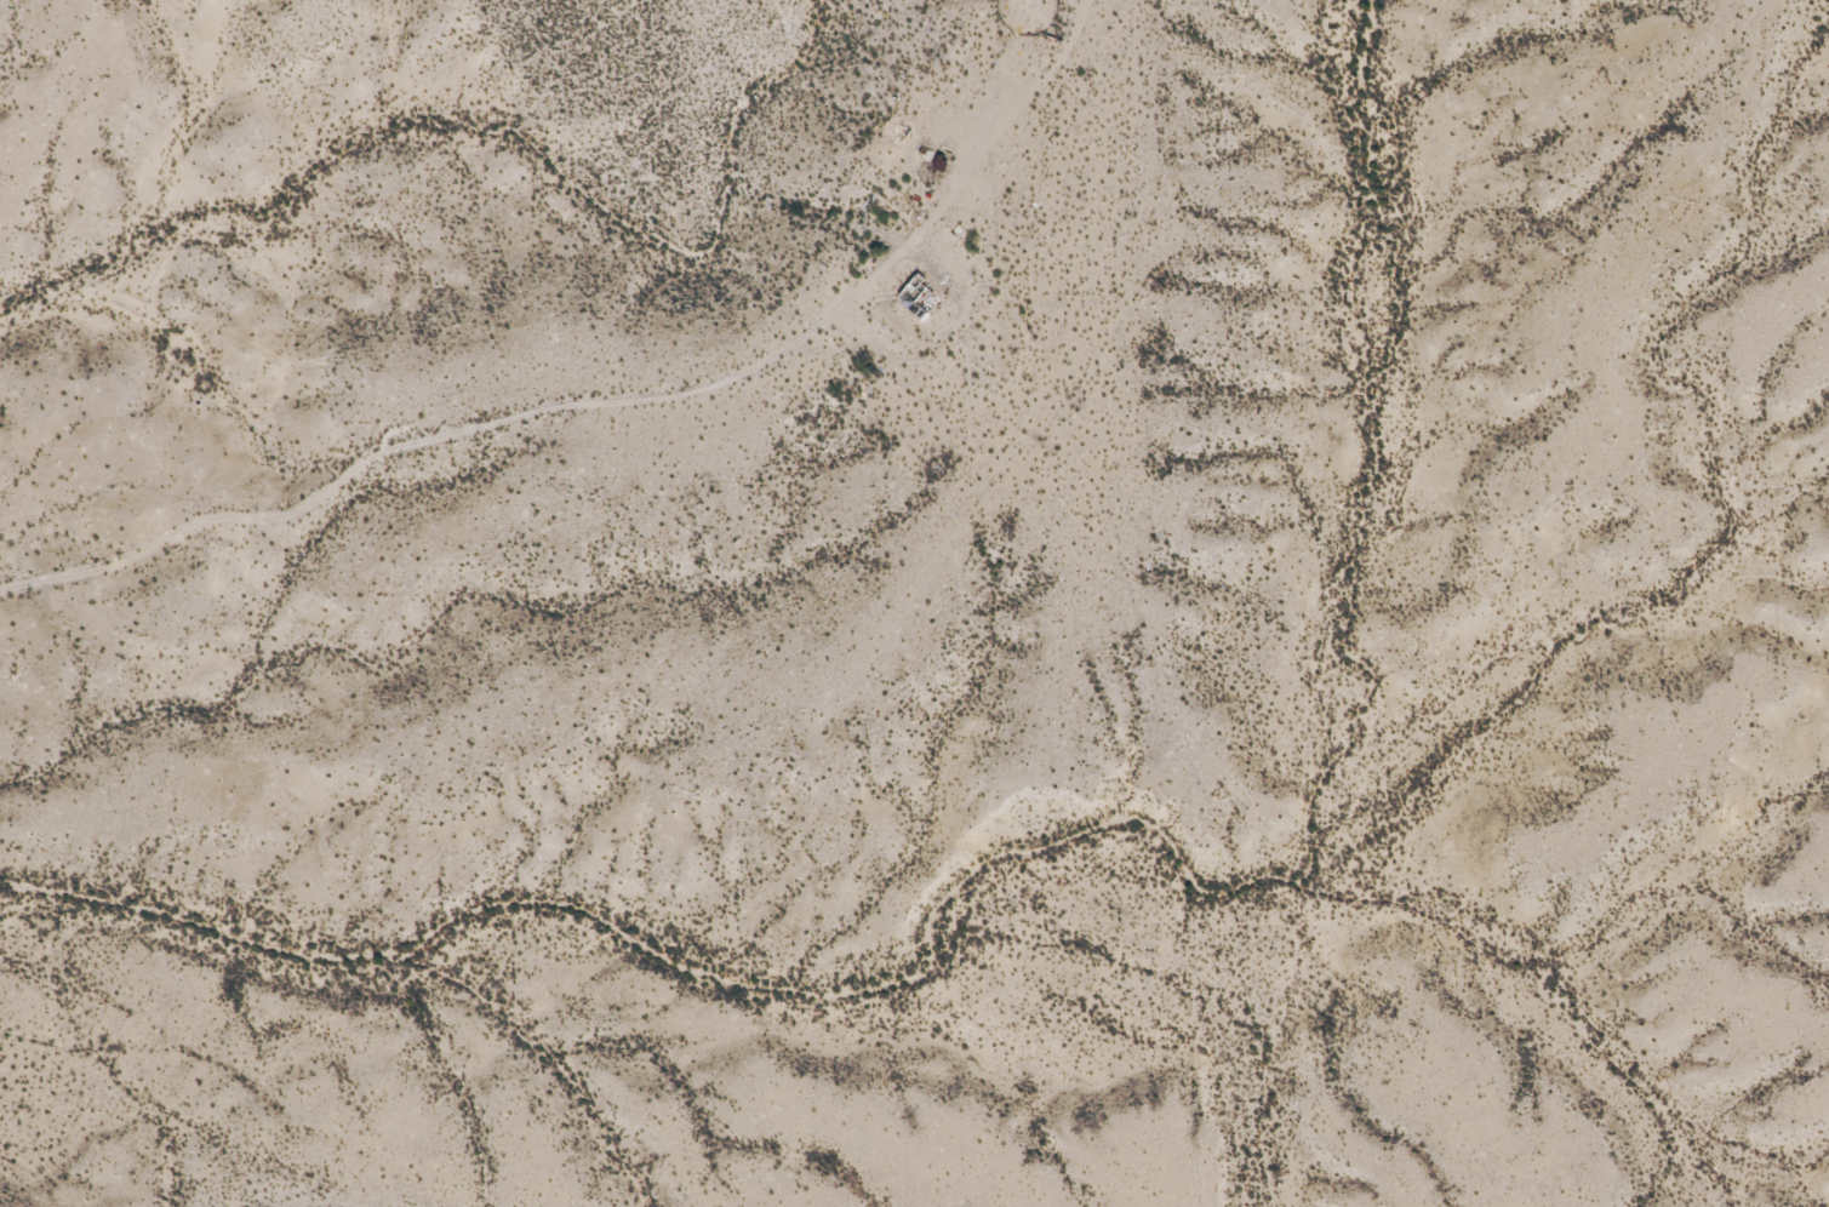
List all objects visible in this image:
road: (613, 405)

